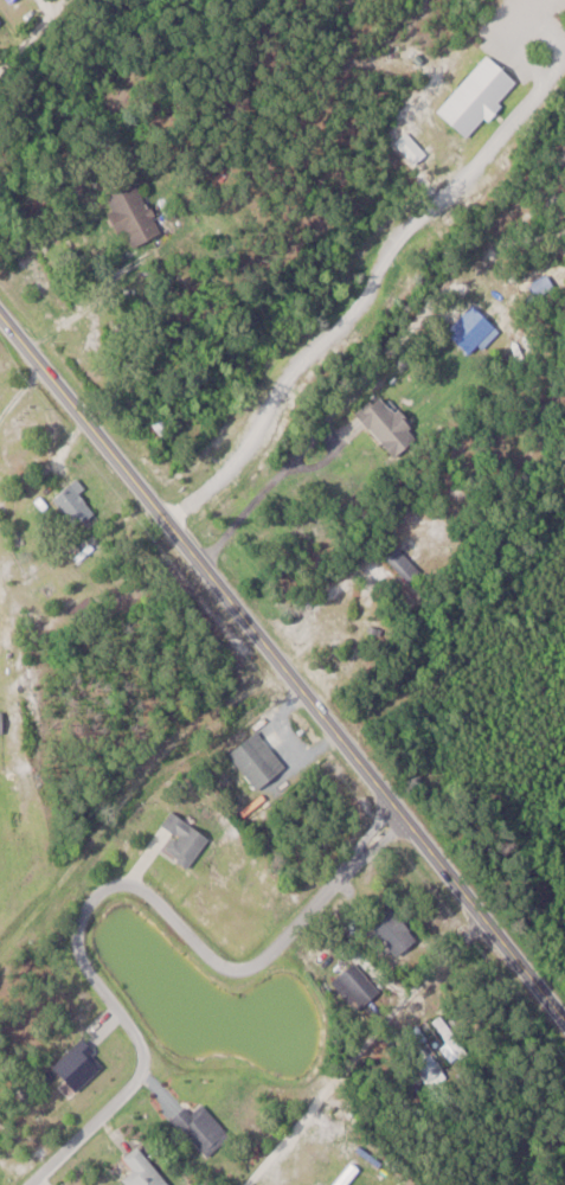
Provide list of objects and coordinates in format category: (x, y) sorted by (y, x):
building: (13, 0)
building: (0, 19)
road: (33, 37)
building: (135, 212)
road: (366, 297)
road: (83, 310)
building: (475, 329)
building: (392, 423)
road: (288, 475)
building: (82, 508)
building: (407, 562)
road: (283, 668)
building: (1, 722)
building: (262, 763)
building: (186, 838)
road: (115, 888)
building: (396, 929)
building: (358, 986)
road: (354, 1043)
building: (83, 1064)
building: (205, 1128)
building: (146, 1170)

